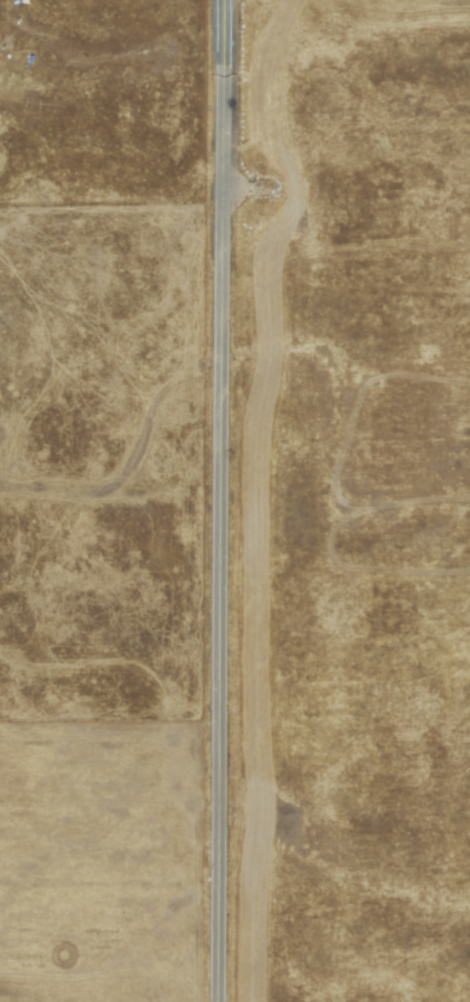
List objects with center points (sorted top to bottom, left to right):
road: (218, 501)

